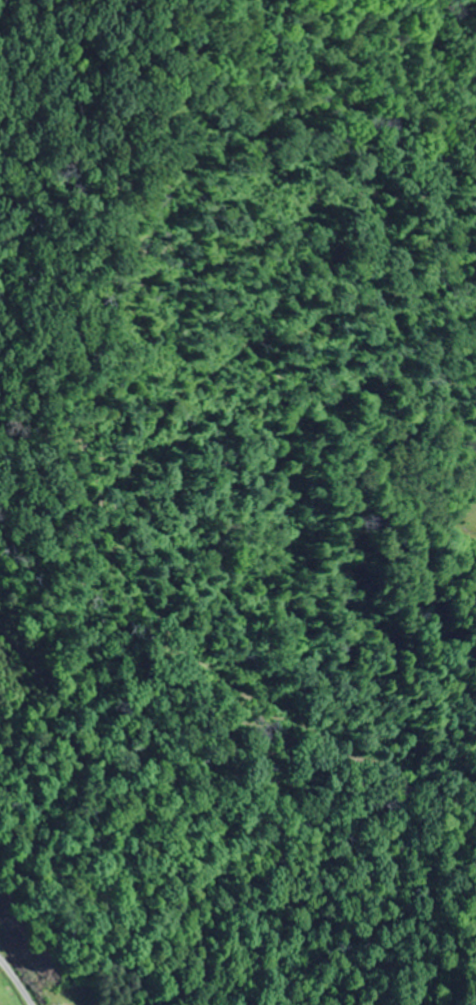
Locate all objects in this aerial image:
road: (18, 981)
road: (10, 988)

